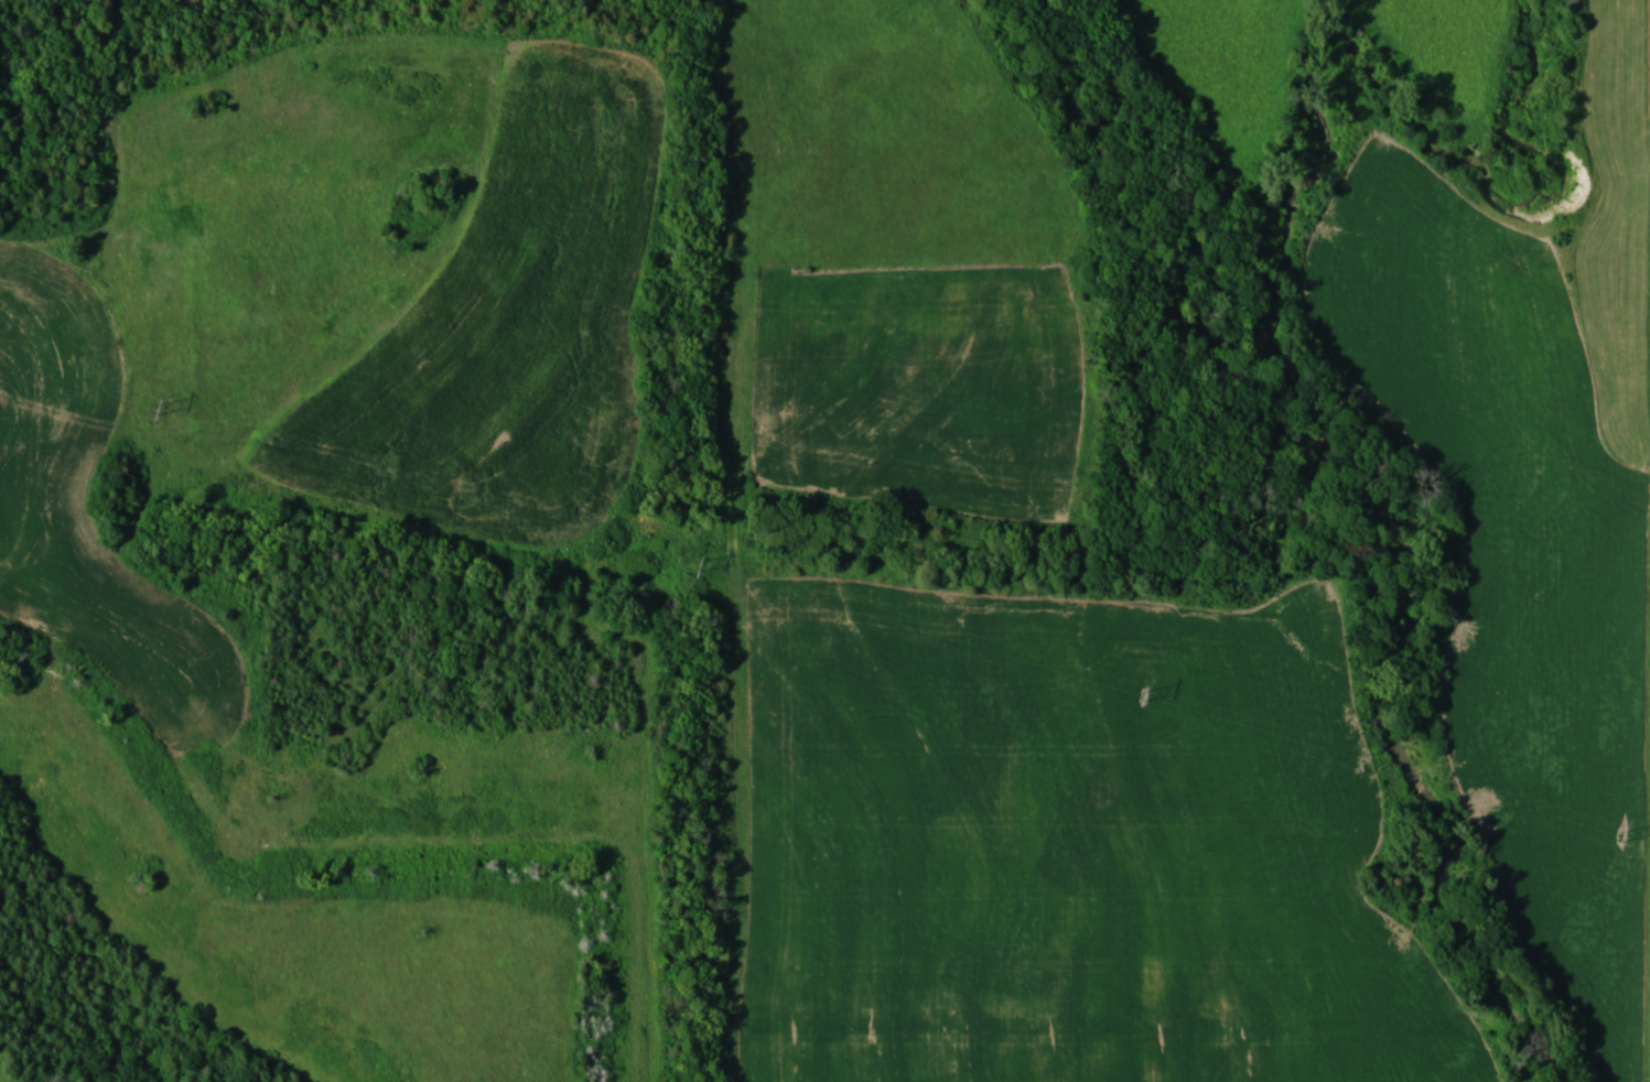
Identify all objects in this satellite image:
power tower: (158, 408)
power tower: (691, 564)
power tower: (1140, 695)
power tower: (1618, 836)

